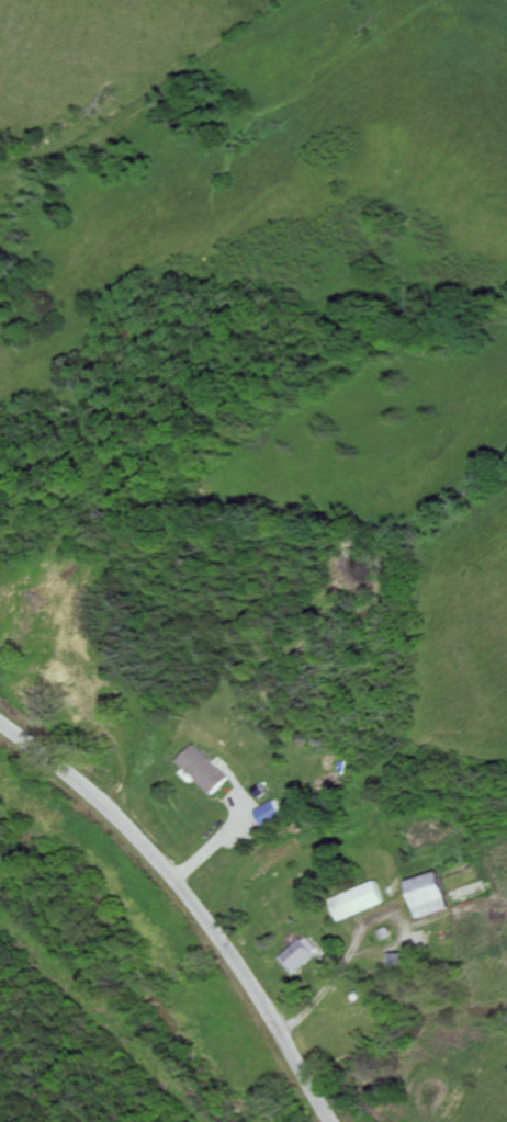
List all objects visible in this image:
building: (203, 769)
building: (271, 813)
road: (221, 840)
building: (432, 894)
road: (194, 898)
building: (362, 900)
building: (305, 954)

